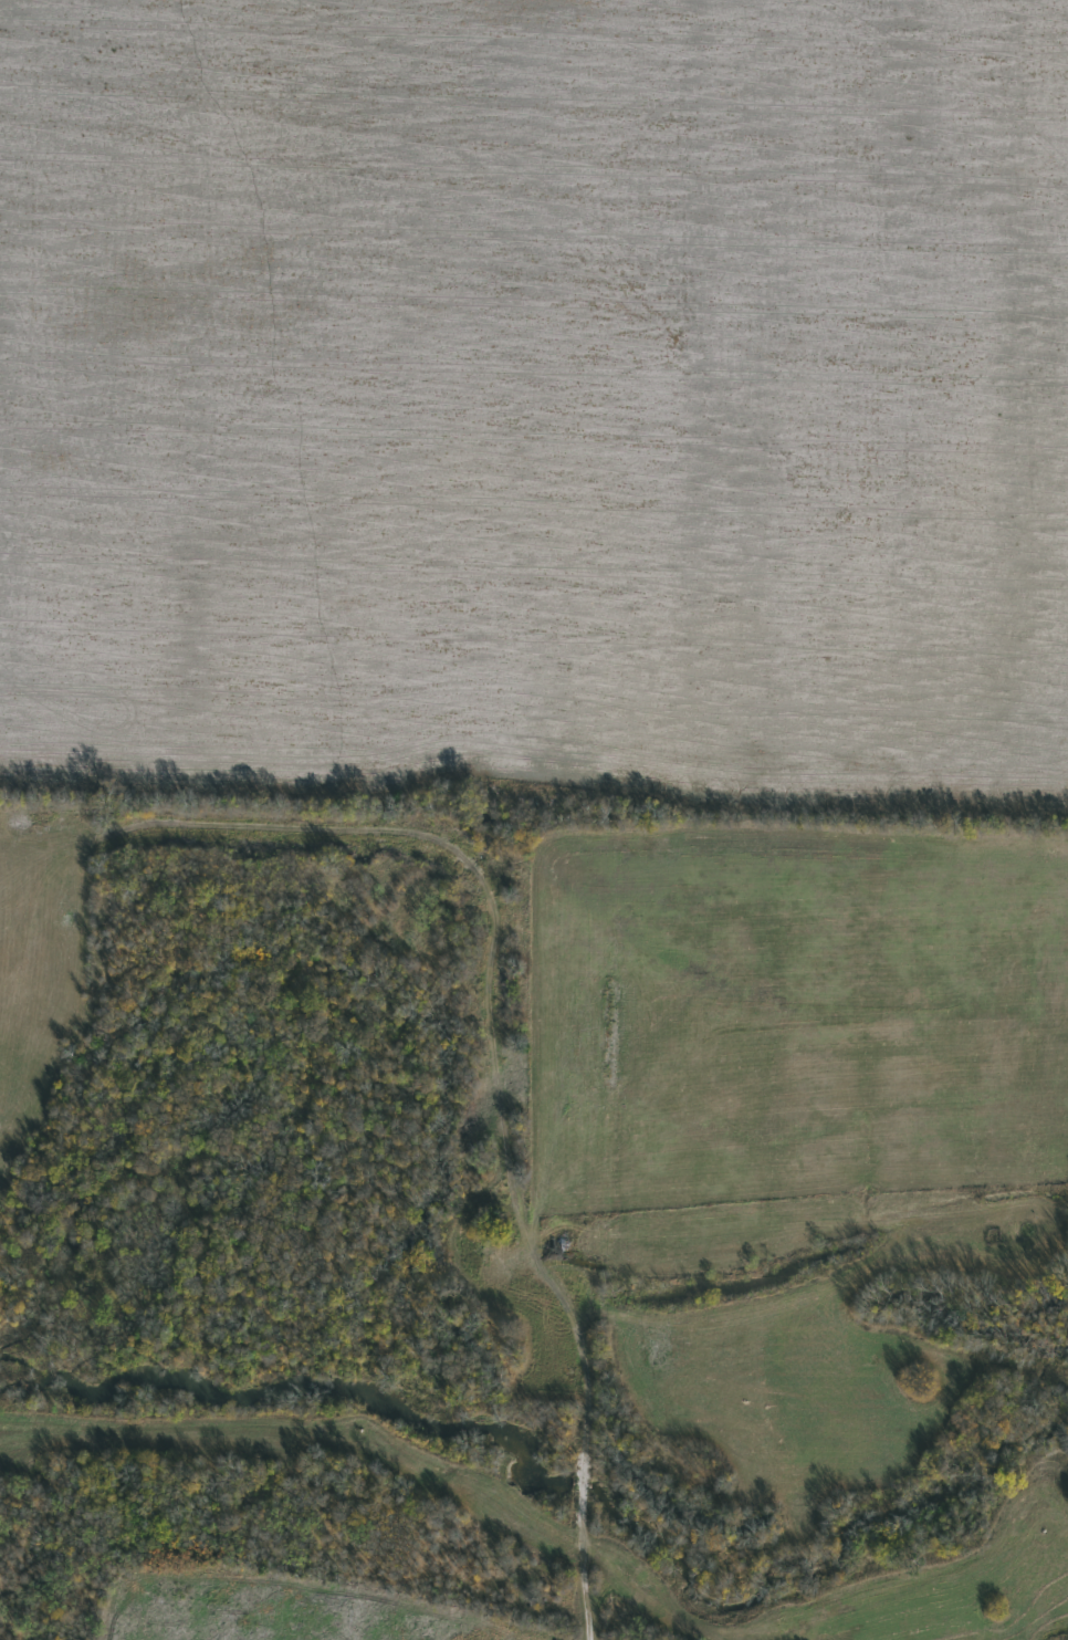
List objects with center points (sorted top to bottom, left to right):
road: (578, 1630)

